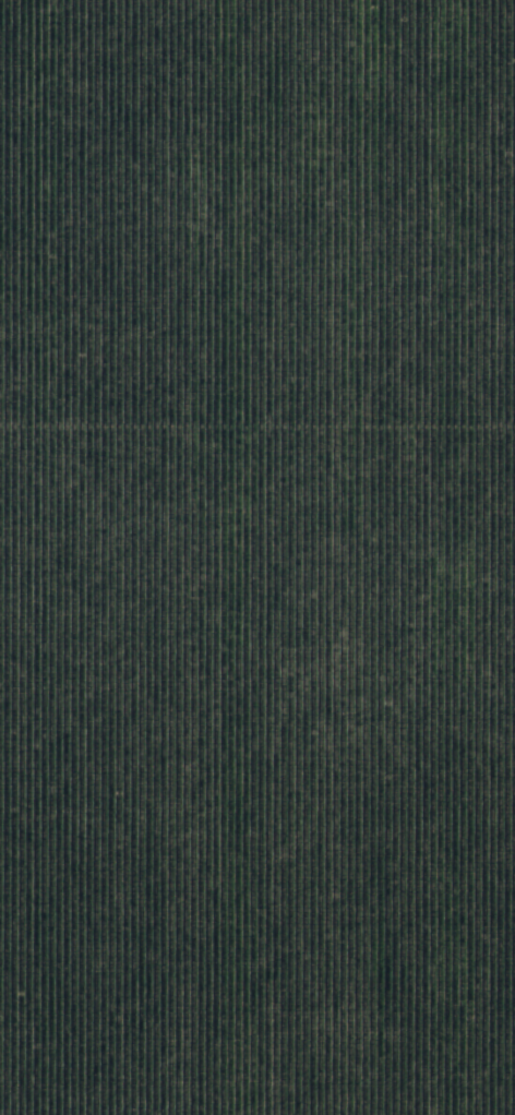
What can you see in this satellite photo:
crop: (257, 557)

